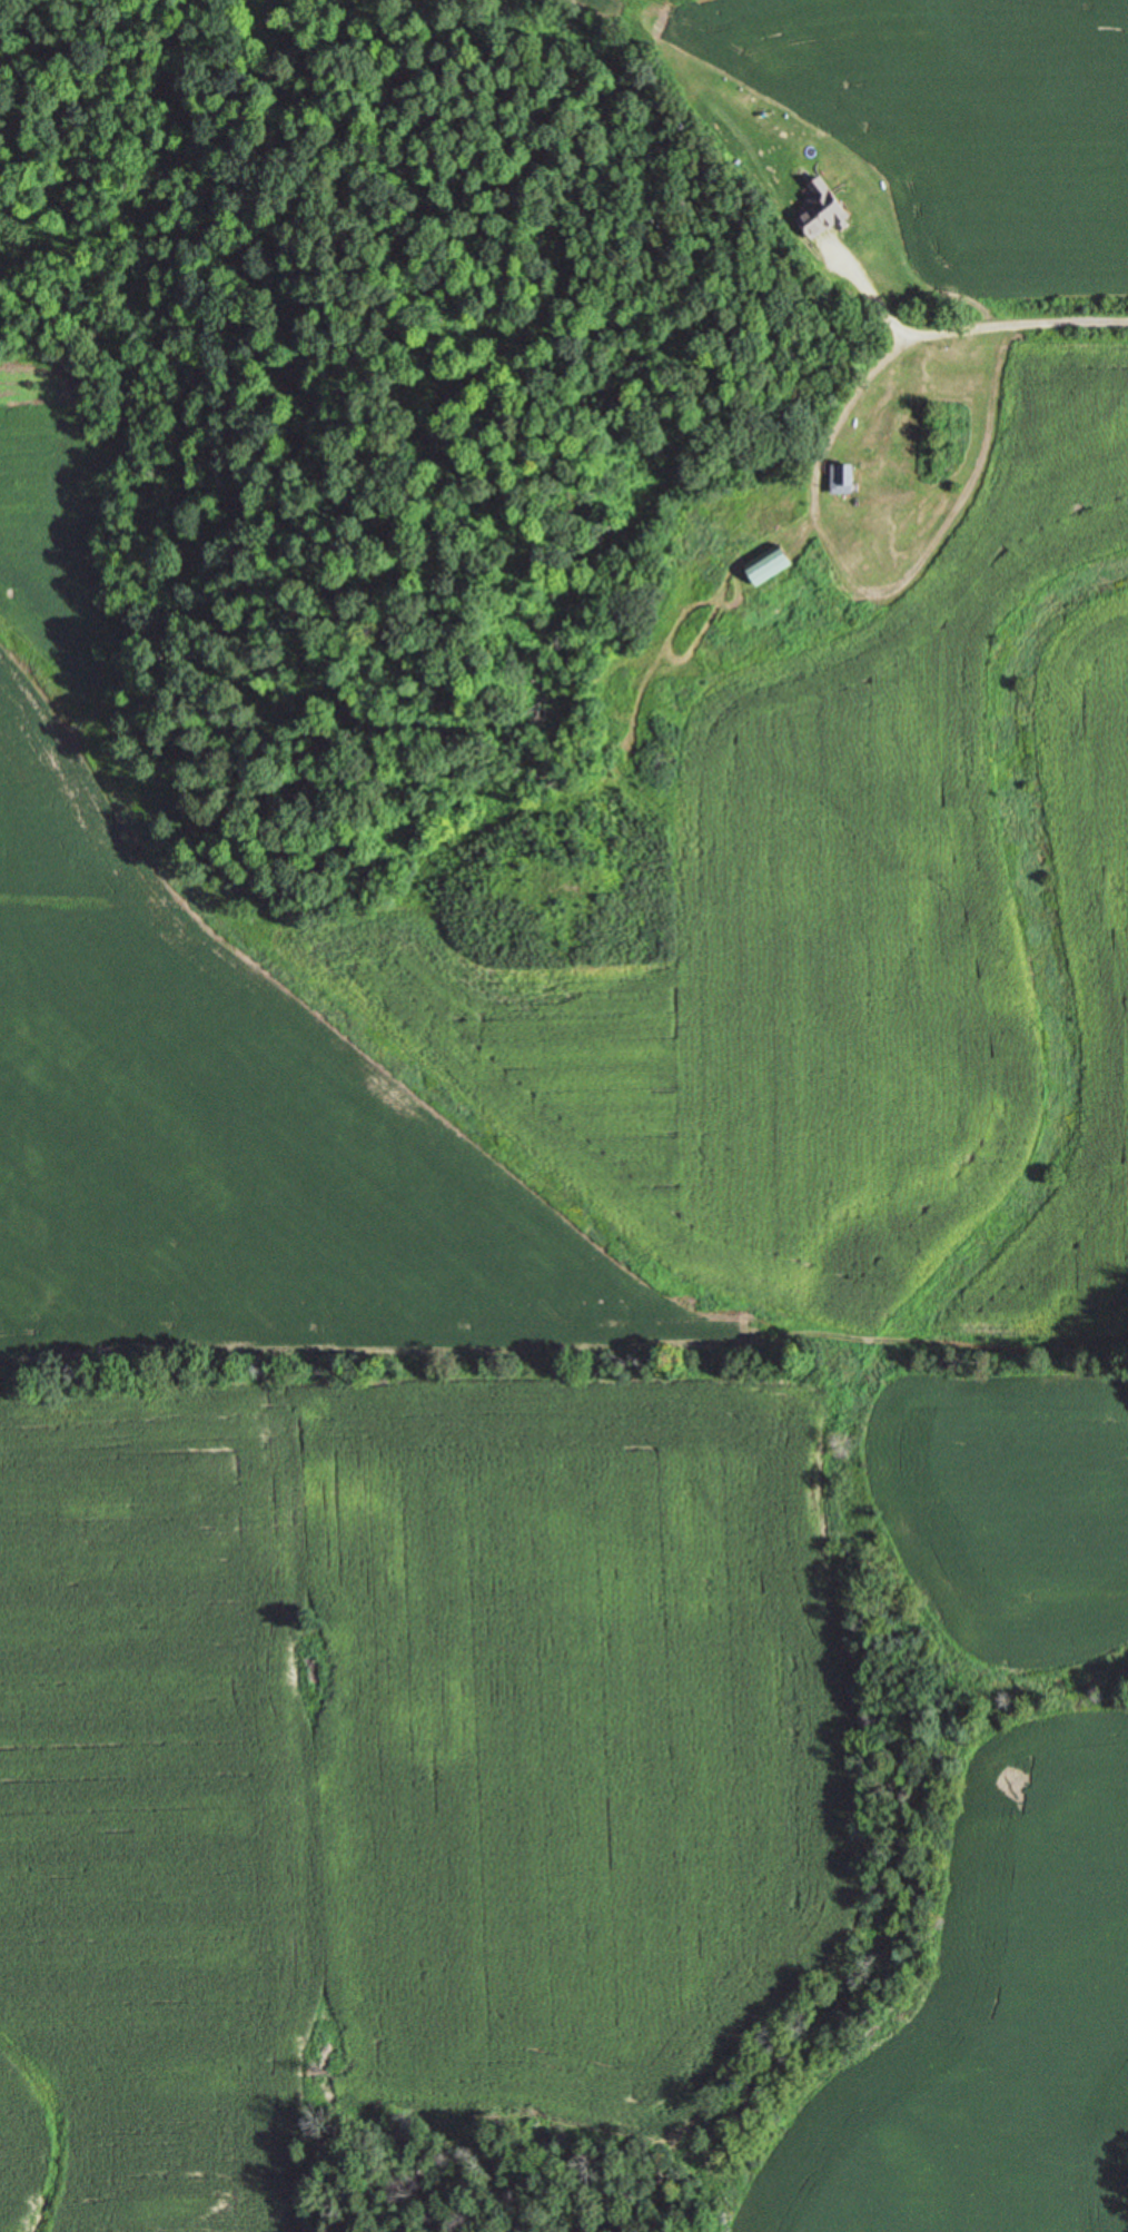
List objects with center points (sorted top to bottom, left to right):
building: (824, 215)
road: (900, 356)
building: (837, 481)
building: (764, 567)

